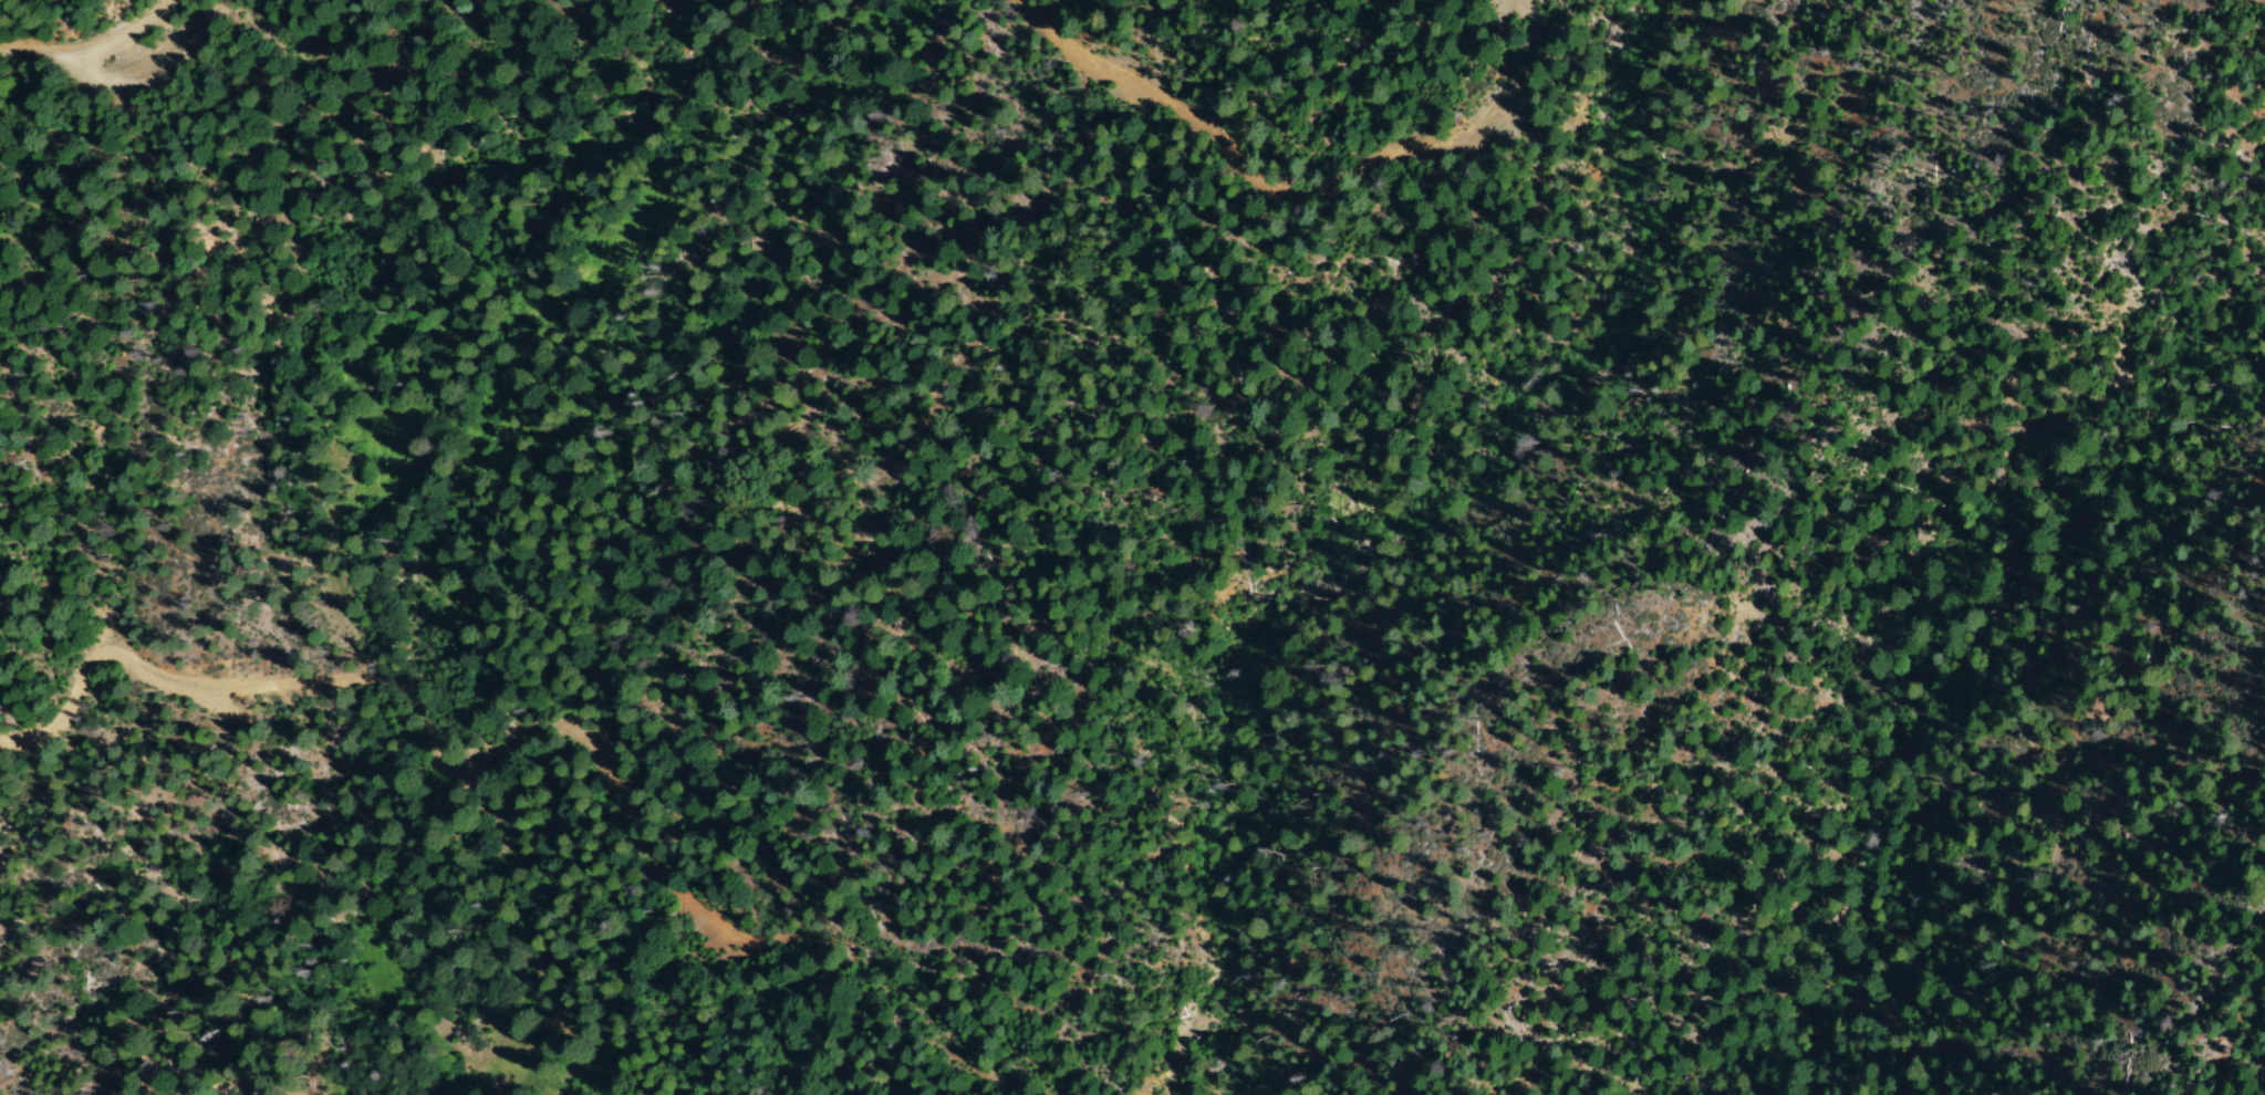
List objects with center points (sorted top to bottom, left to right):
road: (38, 18)
road: (447, 720)

